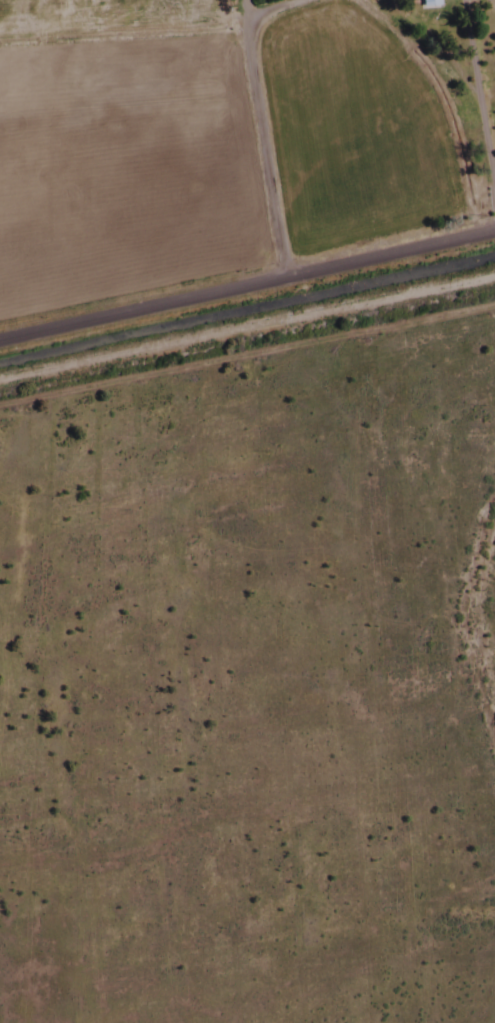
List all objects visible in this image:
building: (424, 3)
road: (247, 287)

